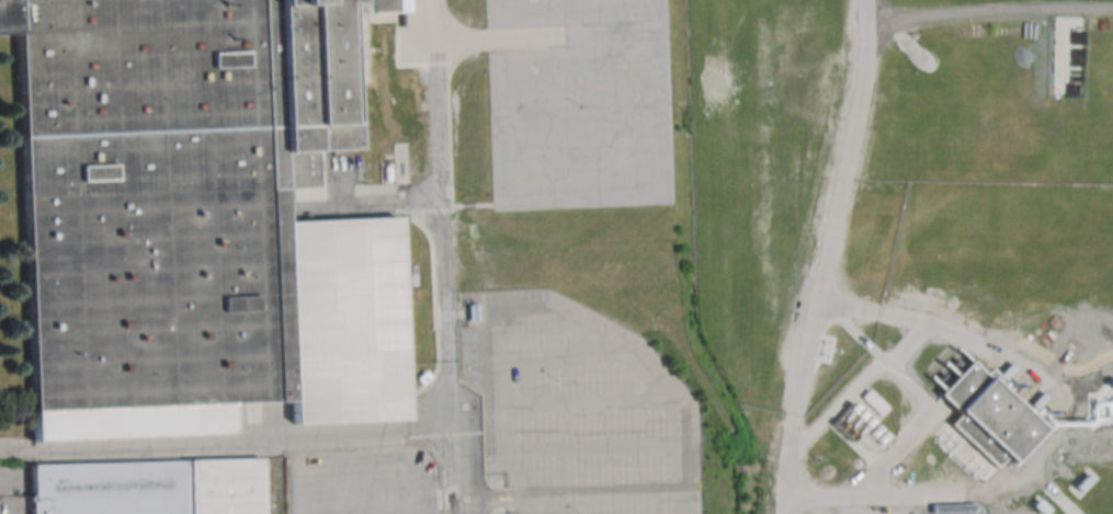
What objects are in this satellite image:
road: (987, 23)
parking lot: (577, 103)
building: (195, 219)
road: (445, 256)
road: (825, 256)
building: (871, 402)
road: (924, 403)
road: (836, 406)
building: (984, 415)
building: (848, 422)
road: (1045, 439)
road: (226, 442)
building: (1078, 482)
building: (146, 488)
building: (955, 511)

